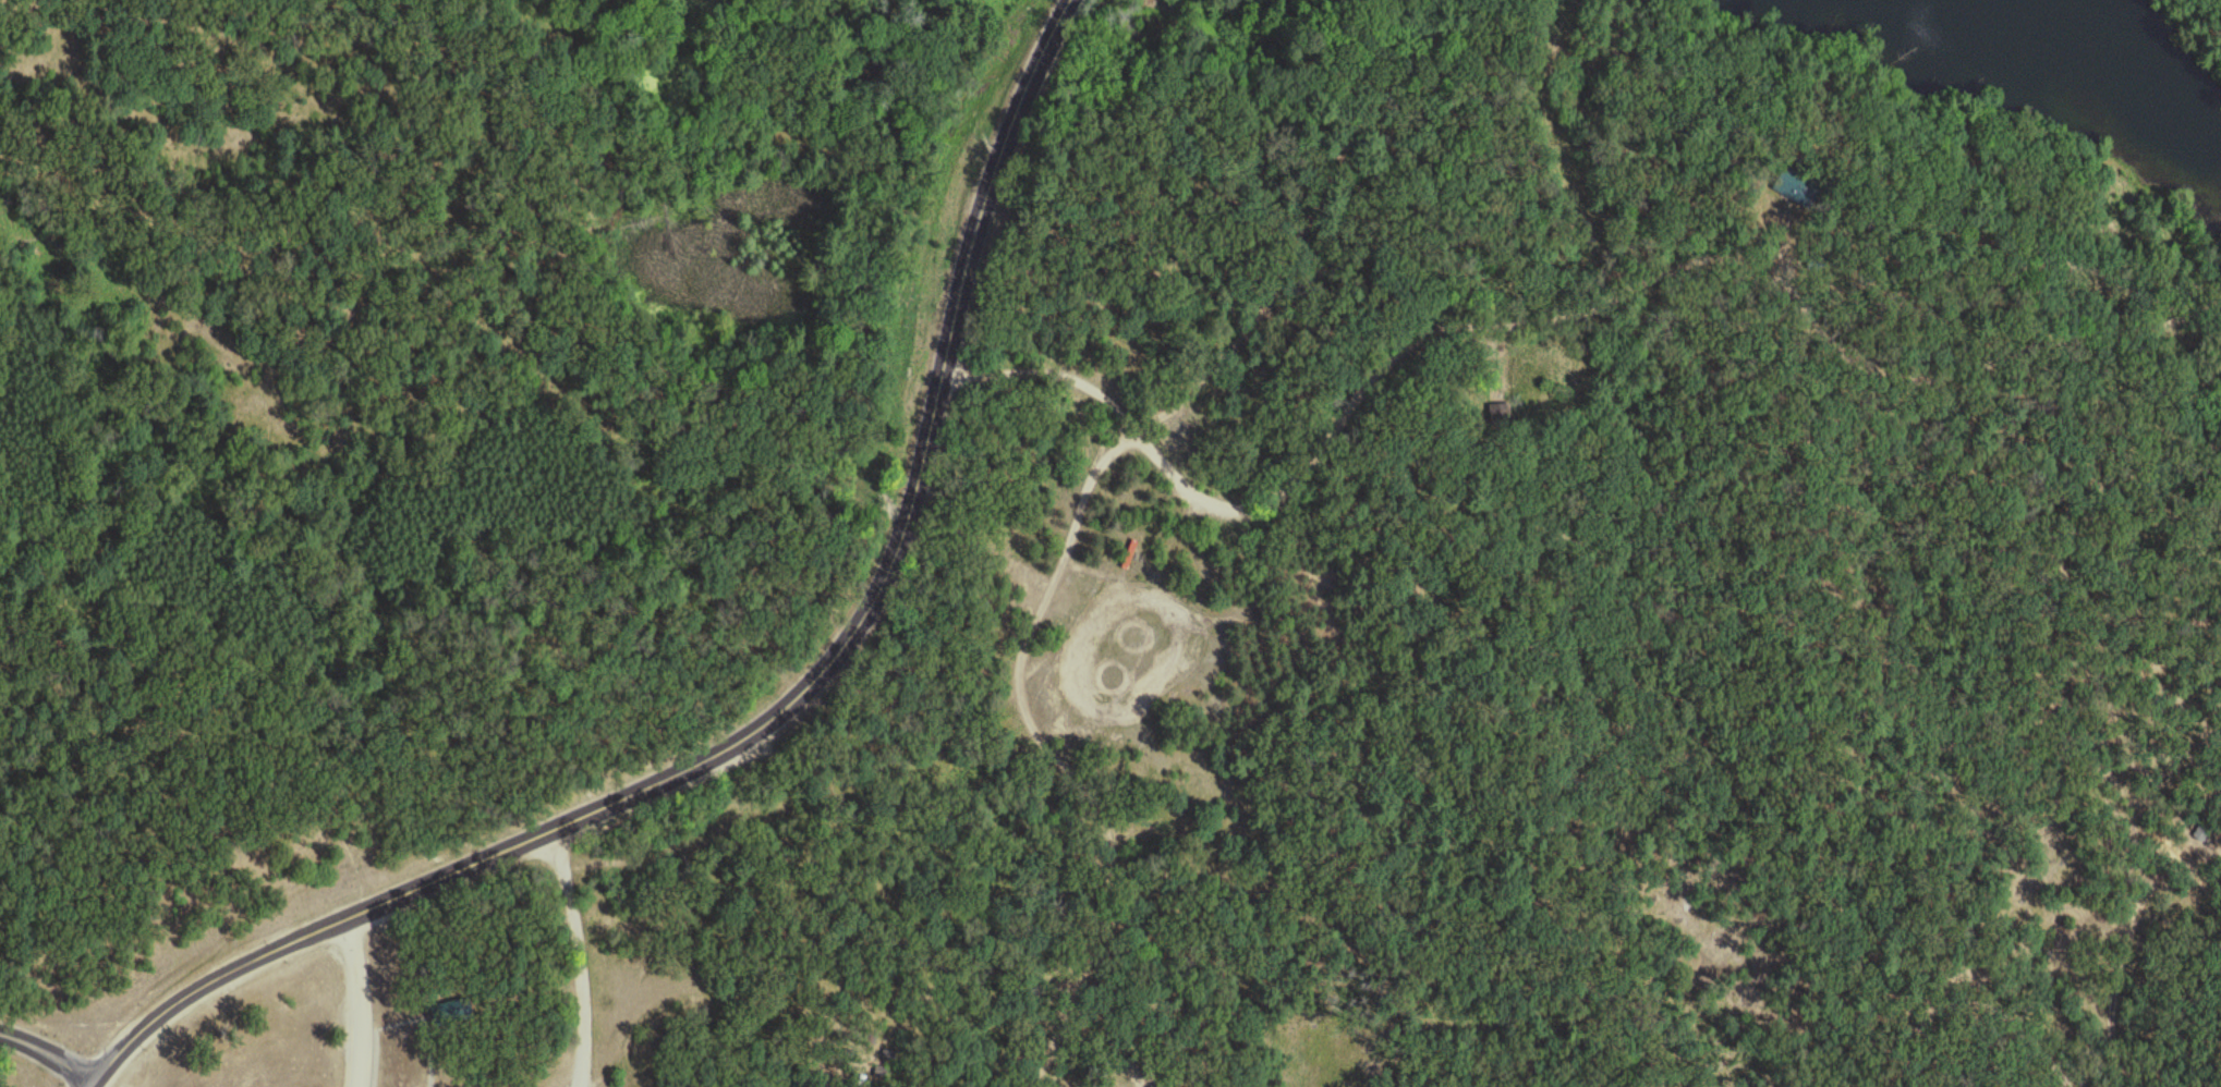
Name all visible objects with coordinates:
building: (1795, 176)
road: (1786, 236)
building: (1815, 249)
road: (2016, 265)
road: (2202, 300)
road: (2022, 342)
road: (1495, 350)
road: (1381, 359)
building: (1498, 405)
road: (1103, 452)
road: (2108, 475)
road: (280, 536)
road: (1391, 553)
parking lot: (1023, 576)
raceway: (1175, 682)
road: (774, 716)
road: (1297, 716)
road: (712, 836)
road: (579, 953)
road: (526, 987)
road: (1974, 997)
road: (353, 999)
building: (452, 1004)
road: (396, 1016)
building: (867, 1027)
road: (1130, 1033)
road: (1051, 1038)
building: (847, 1045)
building: (887, 1045)
road: (425, 1048)
road: (45, 1050)
road: (368, 1054)
park: (1325, 1058)
building: (878, 1061)
building: (855, 1068)
park: (1128, 1068)
building: (881, 1073)
building: (789, 1078)

